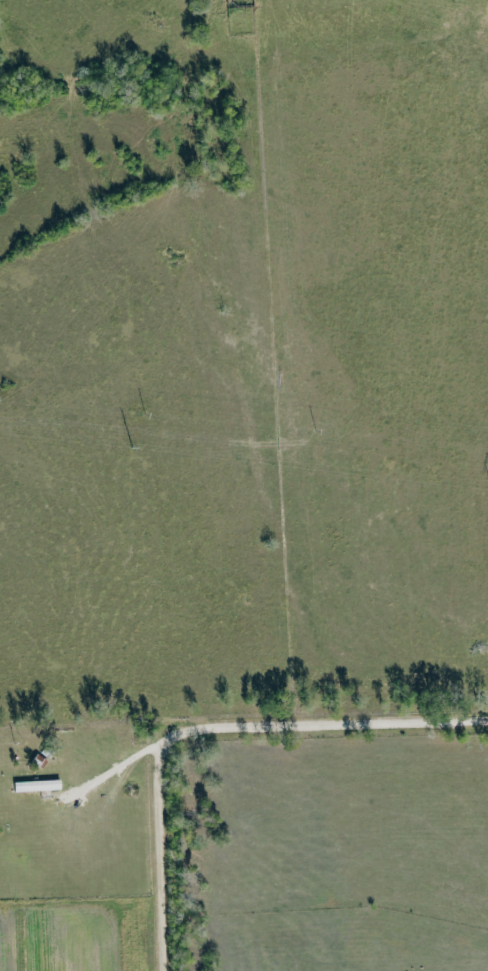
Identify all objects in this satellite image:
power tower: (131, 450)
road: (209, 724)
building: (40, 785)

